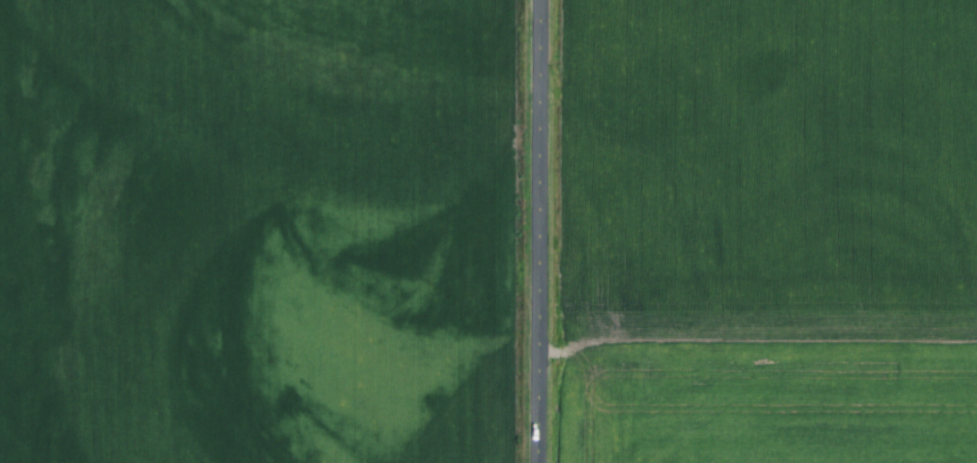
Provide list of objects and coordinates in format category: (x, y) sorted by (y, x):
road: (537, 231)

